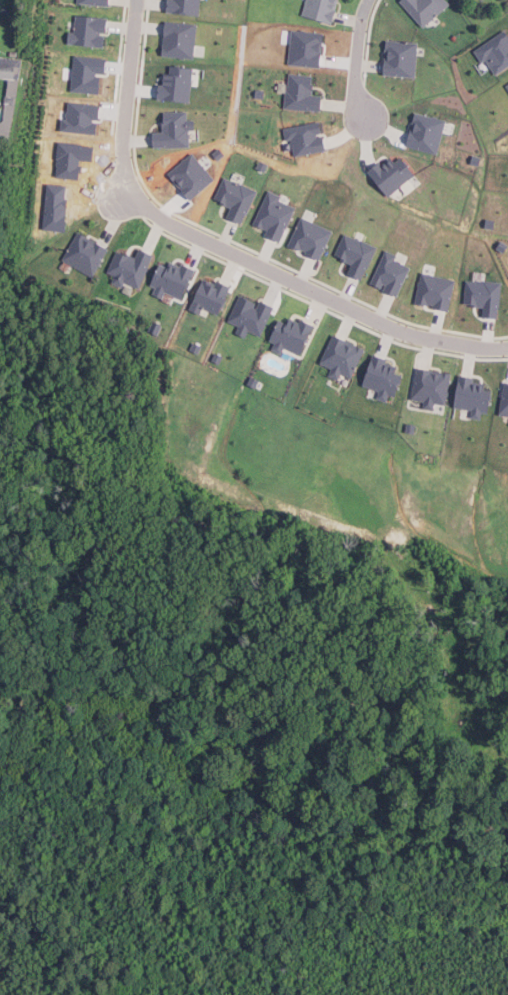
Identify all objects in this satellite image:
building: (93, 1)
building: (182, 6)
building: (322, 9)
building: (423, 9)
building: (87, 30)
building: (178, 39)
building: (304, 45)
building: (261, 51)
building: (494, 51)
building: (399, 57)
road: (355, 58)
building: (85, 71)
building: (173, 82)
building: (506, 86)
building: (7, 91)
building: (258, 91)
building: (300, 91)
building: (78, 115)
building: (172, 129)
building: (425, 132)
building: (304, 138)
building: (217, 152)
building: (70, 155)
building: (474, 160)
building: (261, 165)
building: (189, 173)
building: (390, 174)
building: (234, 198)
building: (52, 206)
building: (272, 215)
building: (487, 221)
building: (309, 237)
building: (502, 243)
road: (225, 245)
building: (84, 253)
building: (354, 254)
building: (128, 267)
building: (388, 273)
building: (171, 279)
building: (433, 291)
building: (482, 295)
building: (207, 296)
building: (248, 315)
building: (153, 327)
building: (290, 335)
building: (194, 347)
building: (340, 357)
building: (215, 358)
building: (380, 375)
building: (252, 381)
building: (430, 387)
building: (470, 396)
building: (503, 400)
building: (409, 428)

